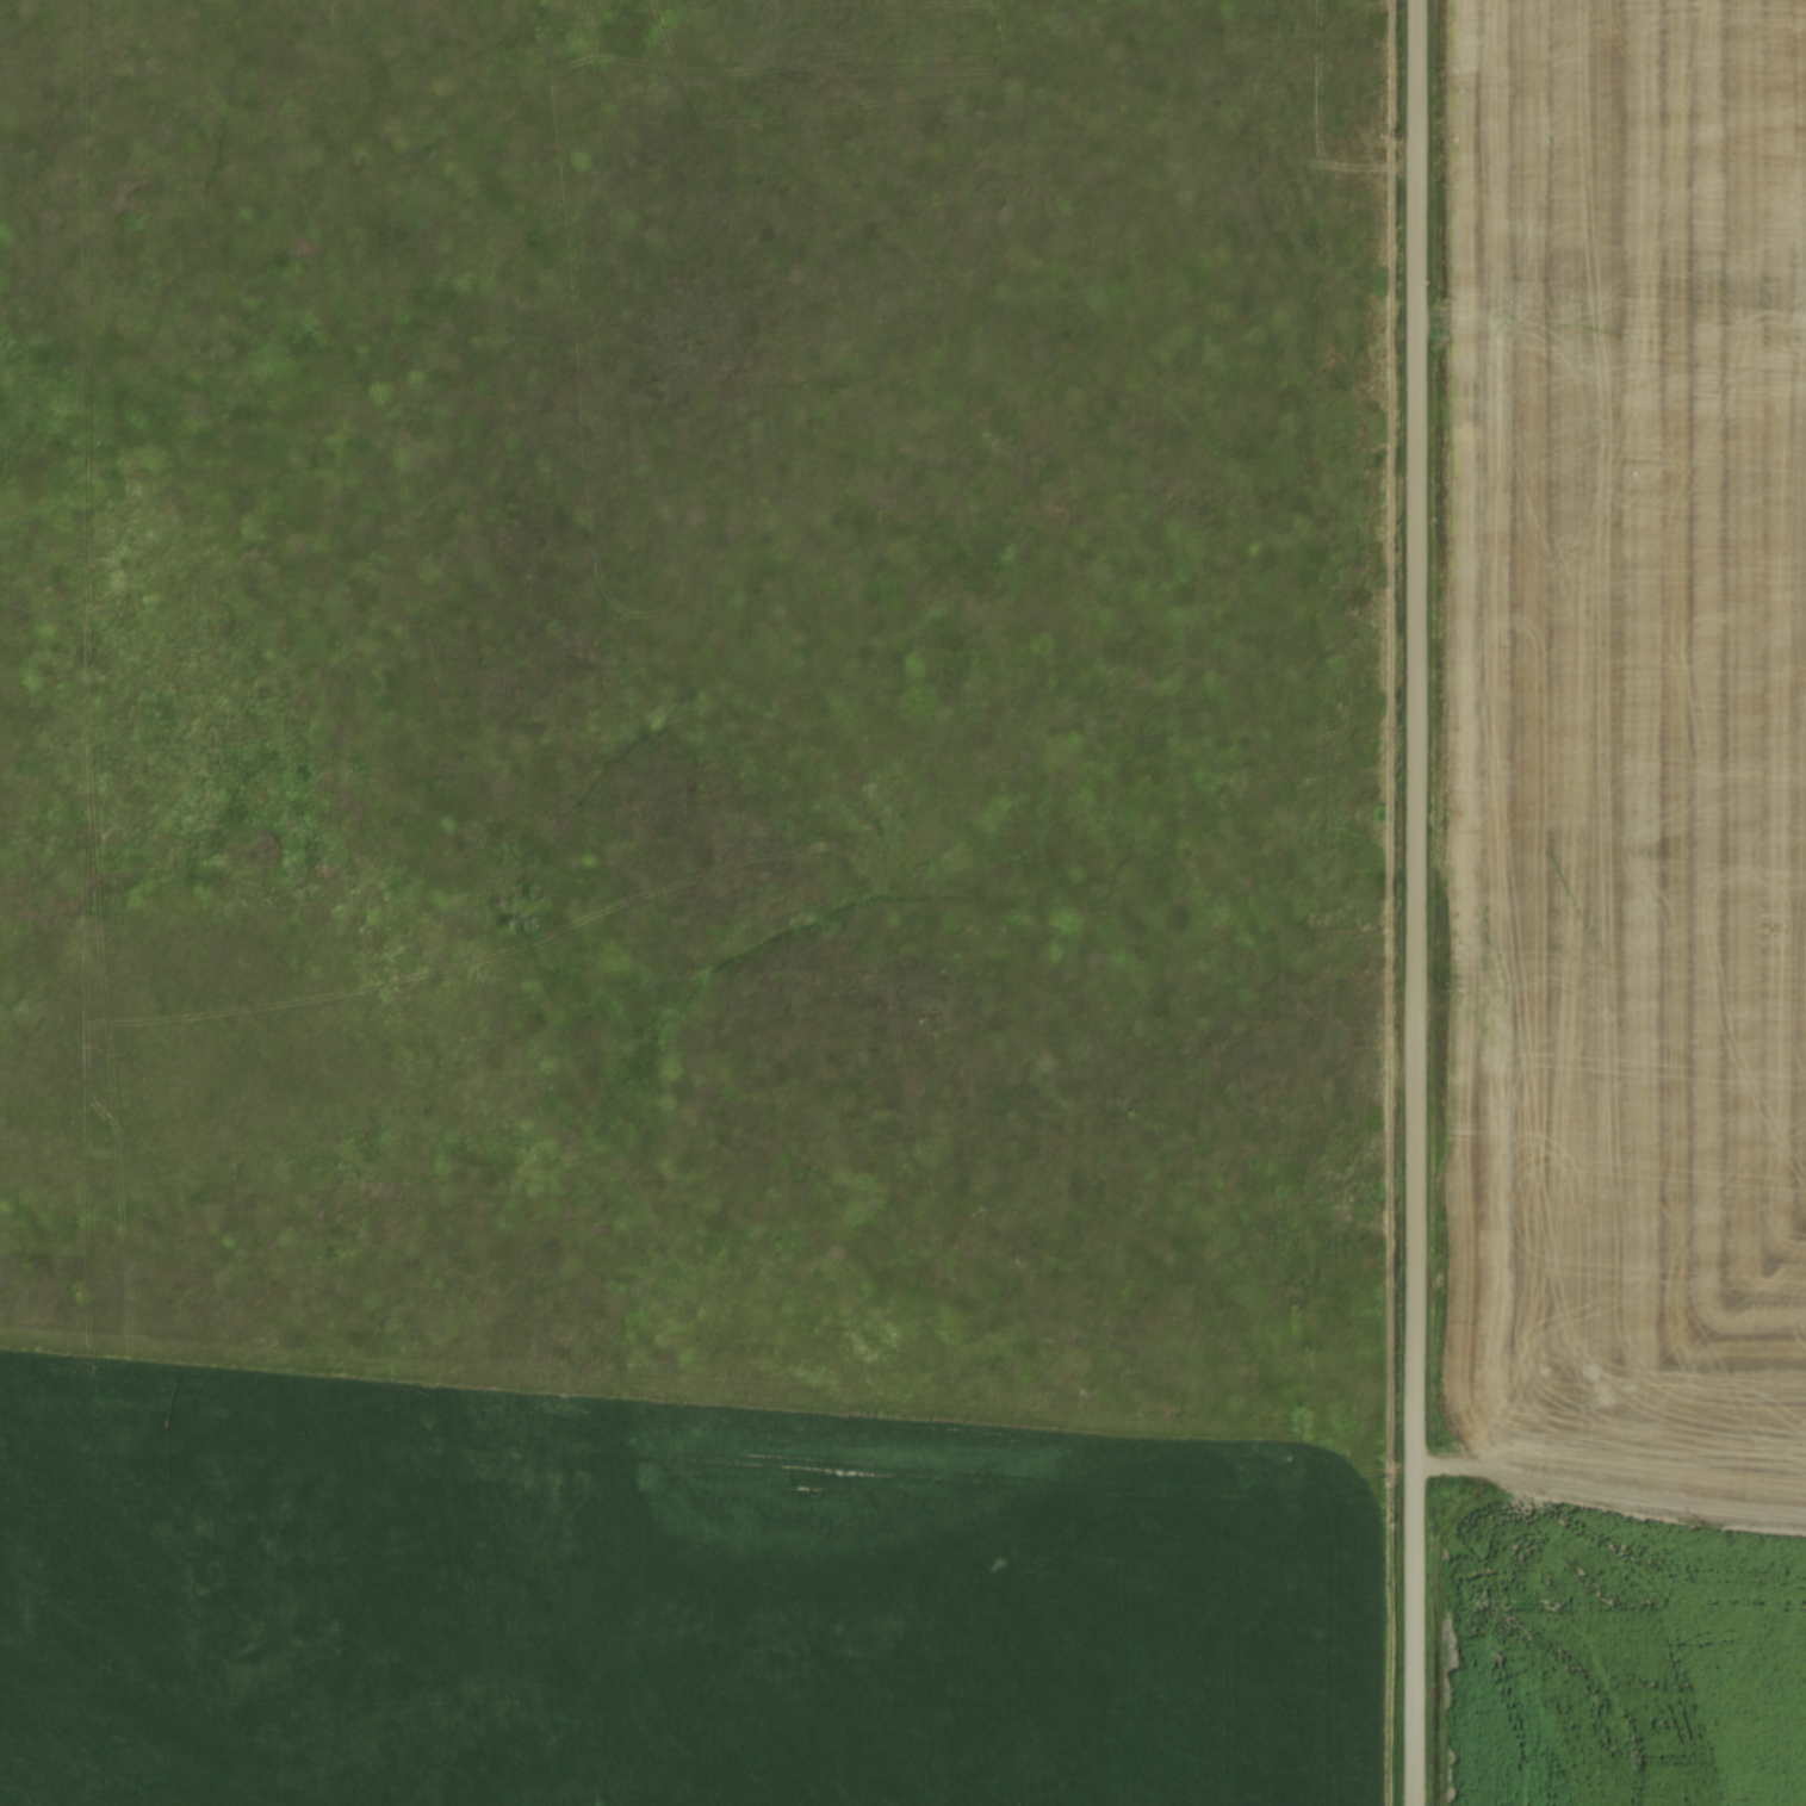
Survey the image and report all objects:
road: (1415, 902)
road: (1610, 1485)

